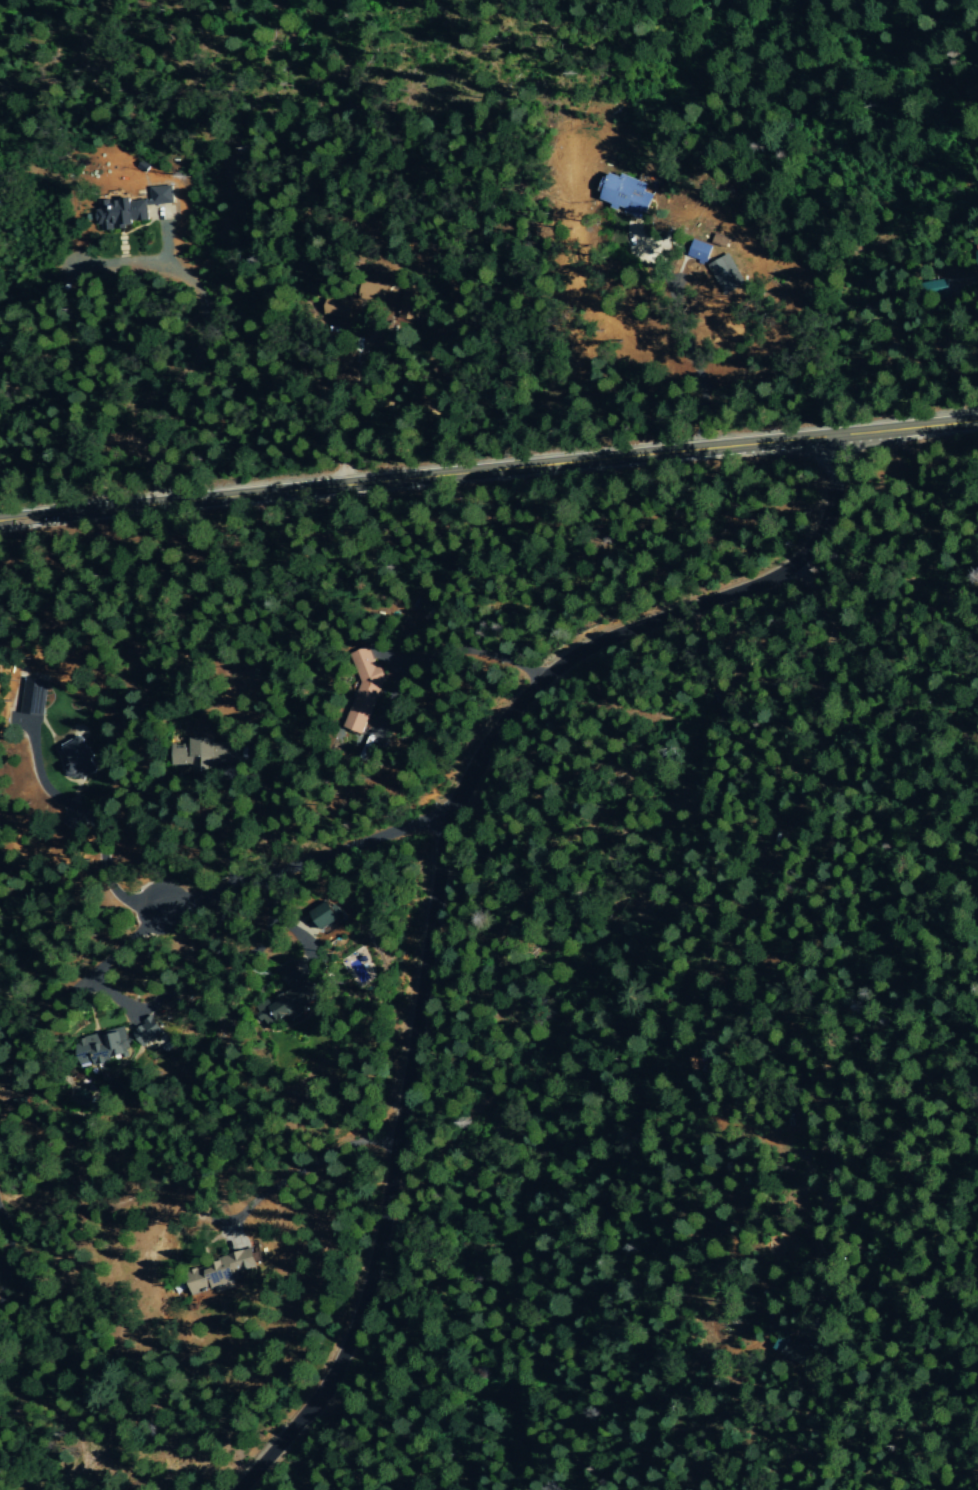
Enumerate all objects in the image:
building: (617, 191)
building: (128, 208)
building: (694, 249)
building: (719, 271)
road: (968, 334)
road: (684, 337)
road: (208, 339)
road: (342, 401)
road: (653, 453)
road: (489, 498)
road: (164, 502)
building: (363, 691)
building: (190, 755)
building: (71, 756)
road: (305, 859)
road: (432, 883)
building: (143, 1023)
building: (101, 1048)
road: (306, 1167)
road: (9, 1263)

